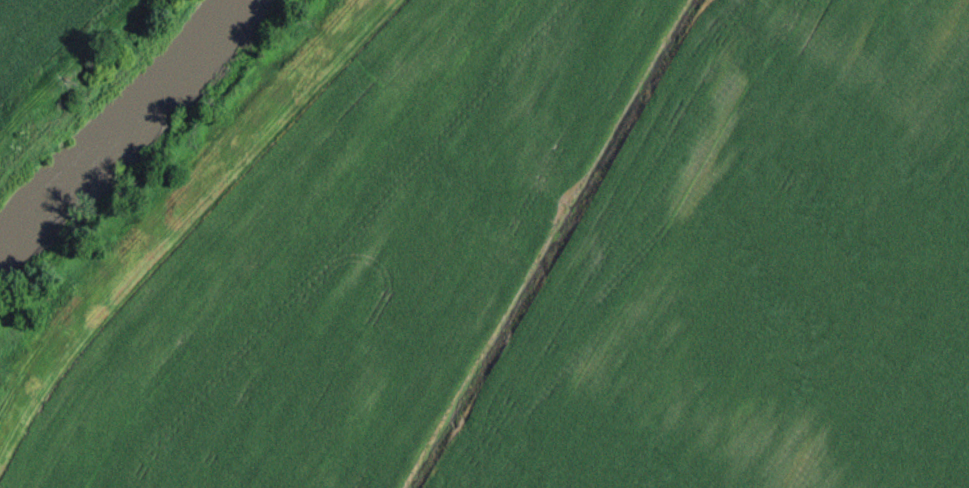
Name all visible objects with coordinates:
river: (126, 124)

